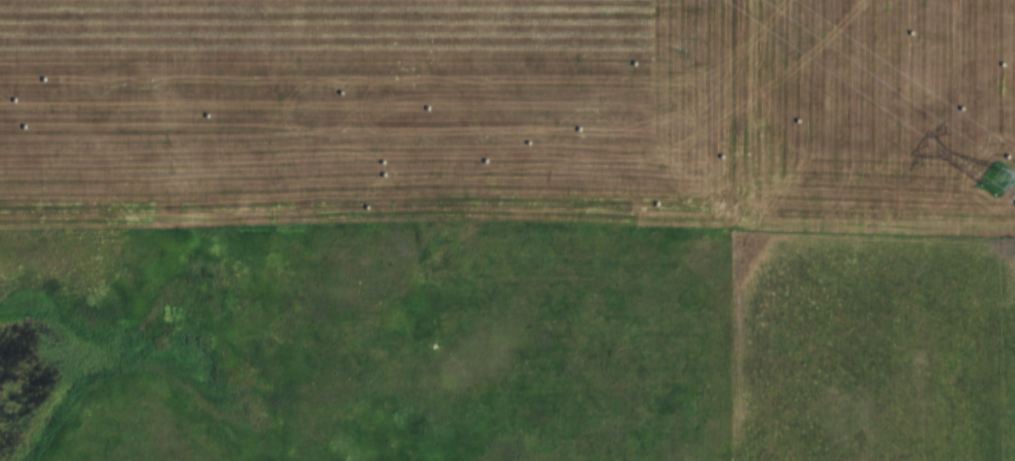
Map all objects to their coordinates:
power tower: (992, 179)

